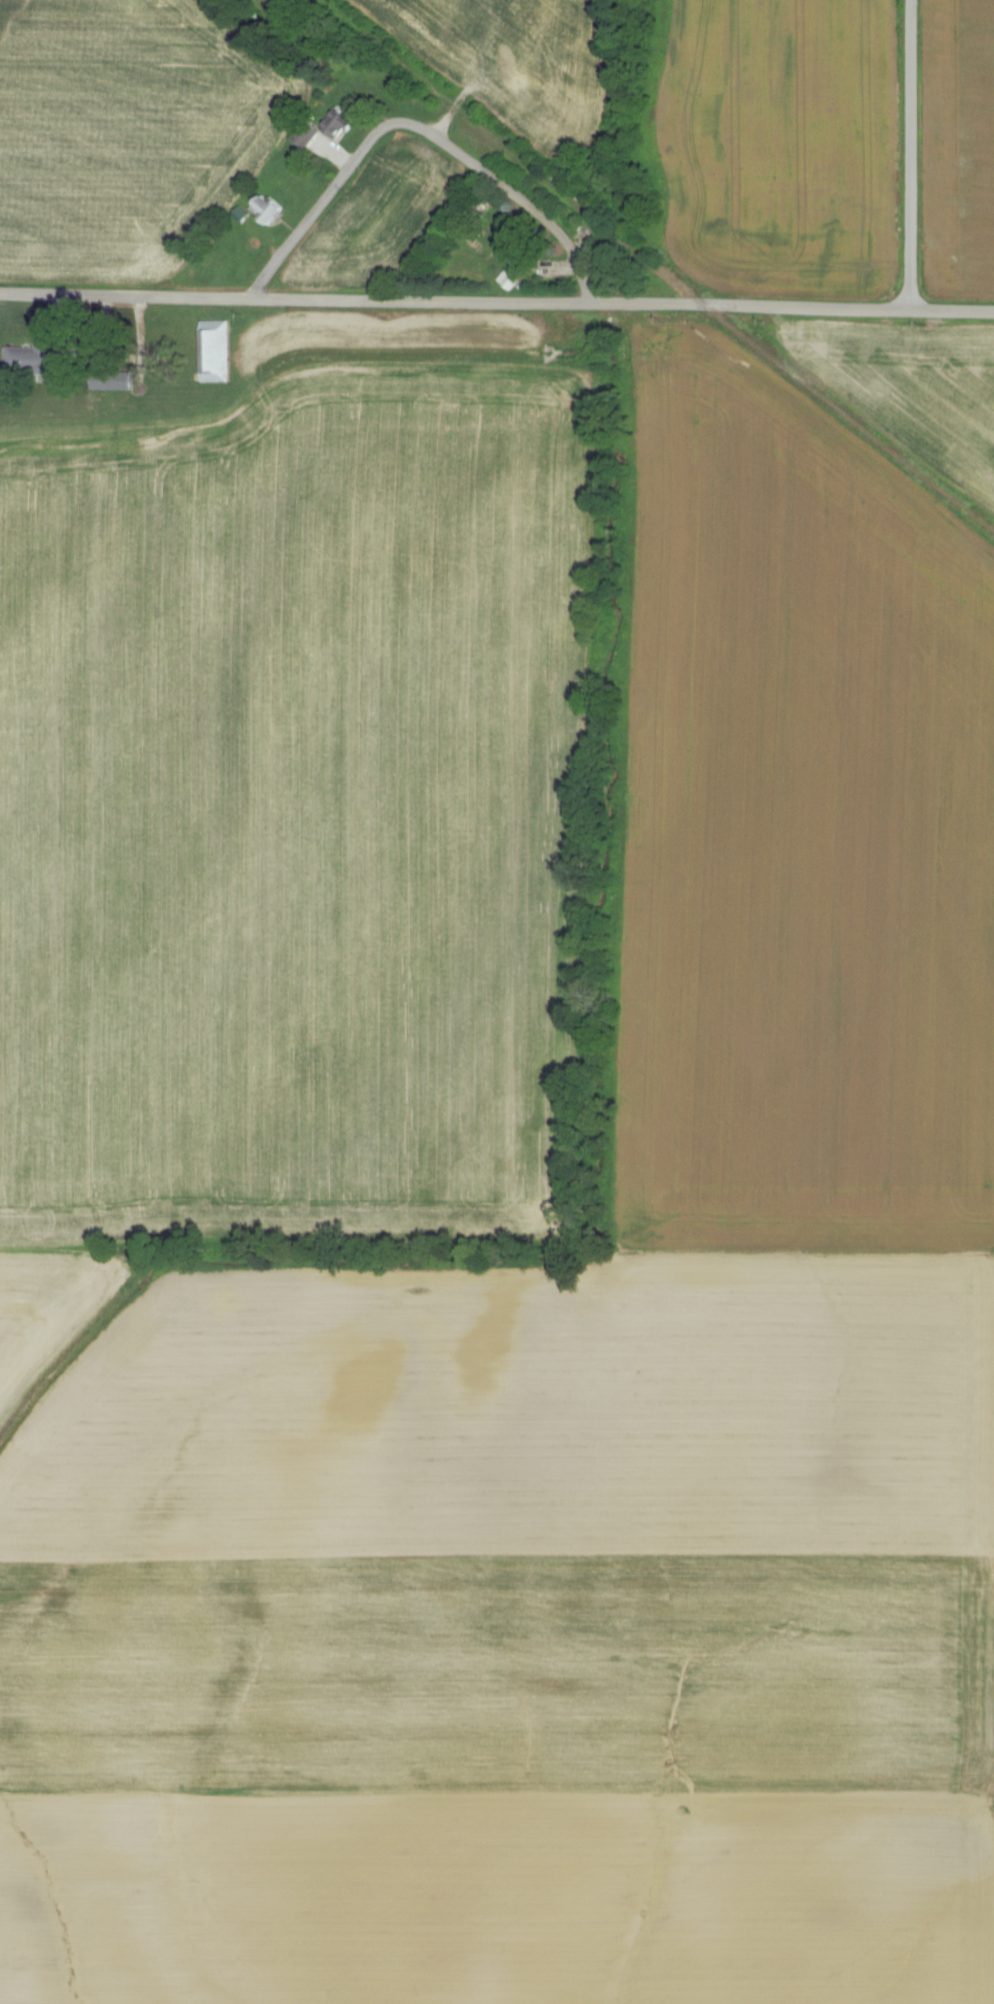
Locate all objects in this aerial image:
building: (327, 128)
road: (419, 128)
road: (911, 155)
building: (269, 208)
building: (515, 256)
road: (497, 302)
building: (217, 351)
building: (36, 359)
building: (119, 380)

